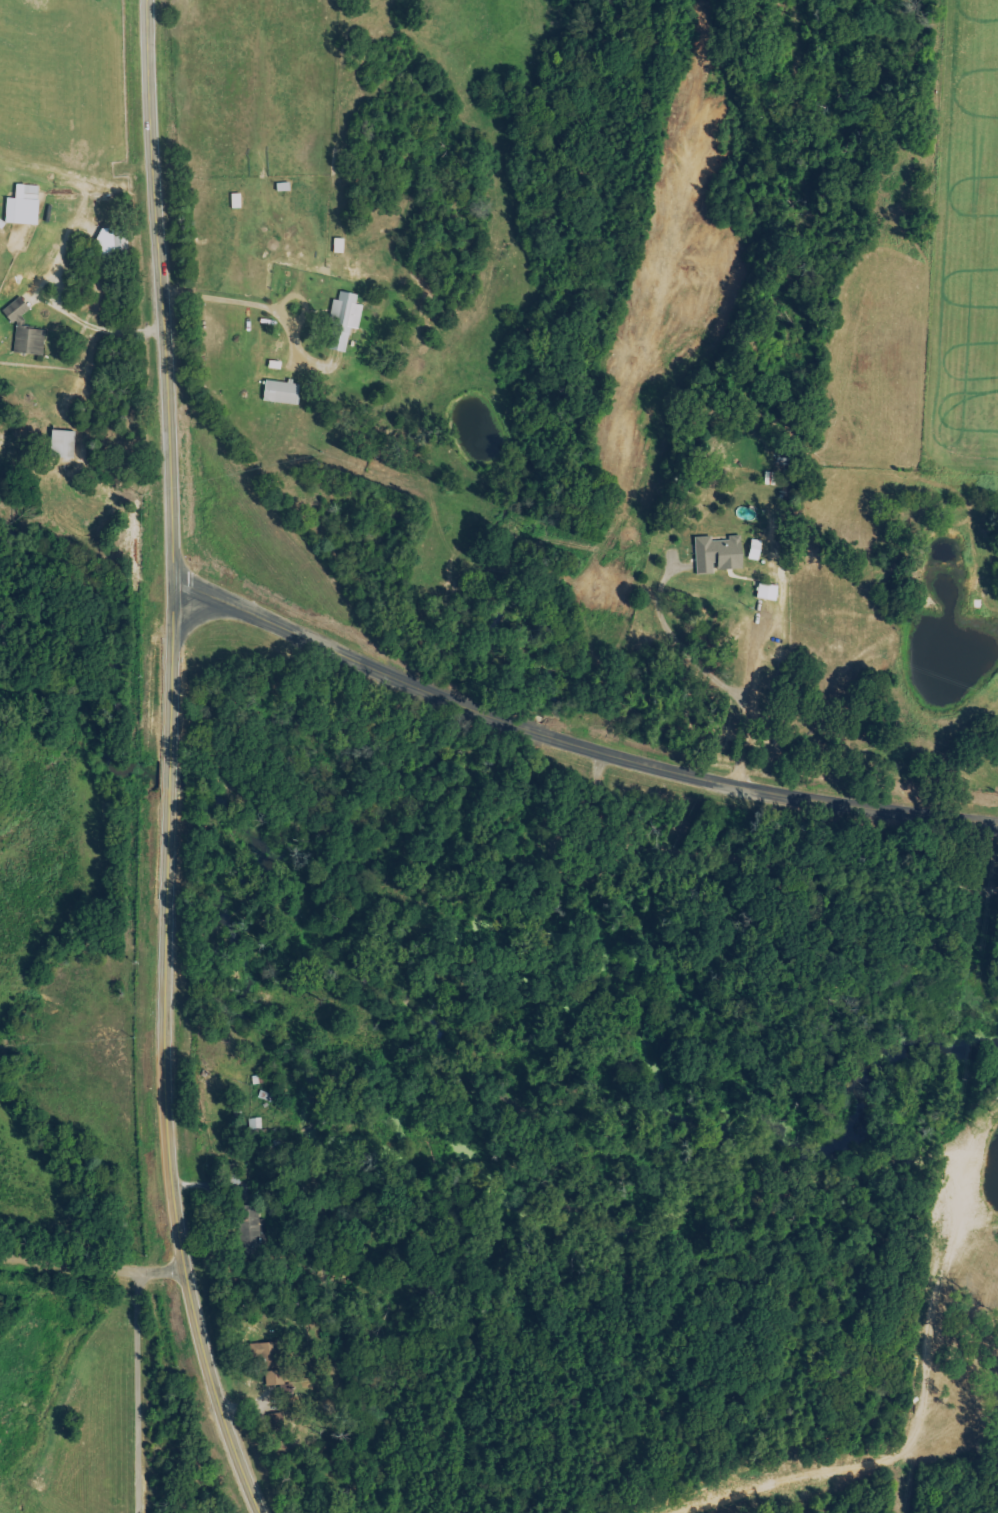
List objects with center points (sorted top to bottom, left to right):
building: (22, 206)
road: (248, 301)
road: (76, 319)
building: (342, 321)
building: (24, 333)
building: (280, 392)
building: (61, 445)
park: (124, 470)
building: (717, 555)
building: (766, 592)
road: (199, 623)
road: (703, 671)
road: (576, 742)
road: (173, 763)
building: (251, 1230)
road: (95, 1277)
building: (270, 1364)
road: (136, 1397)

